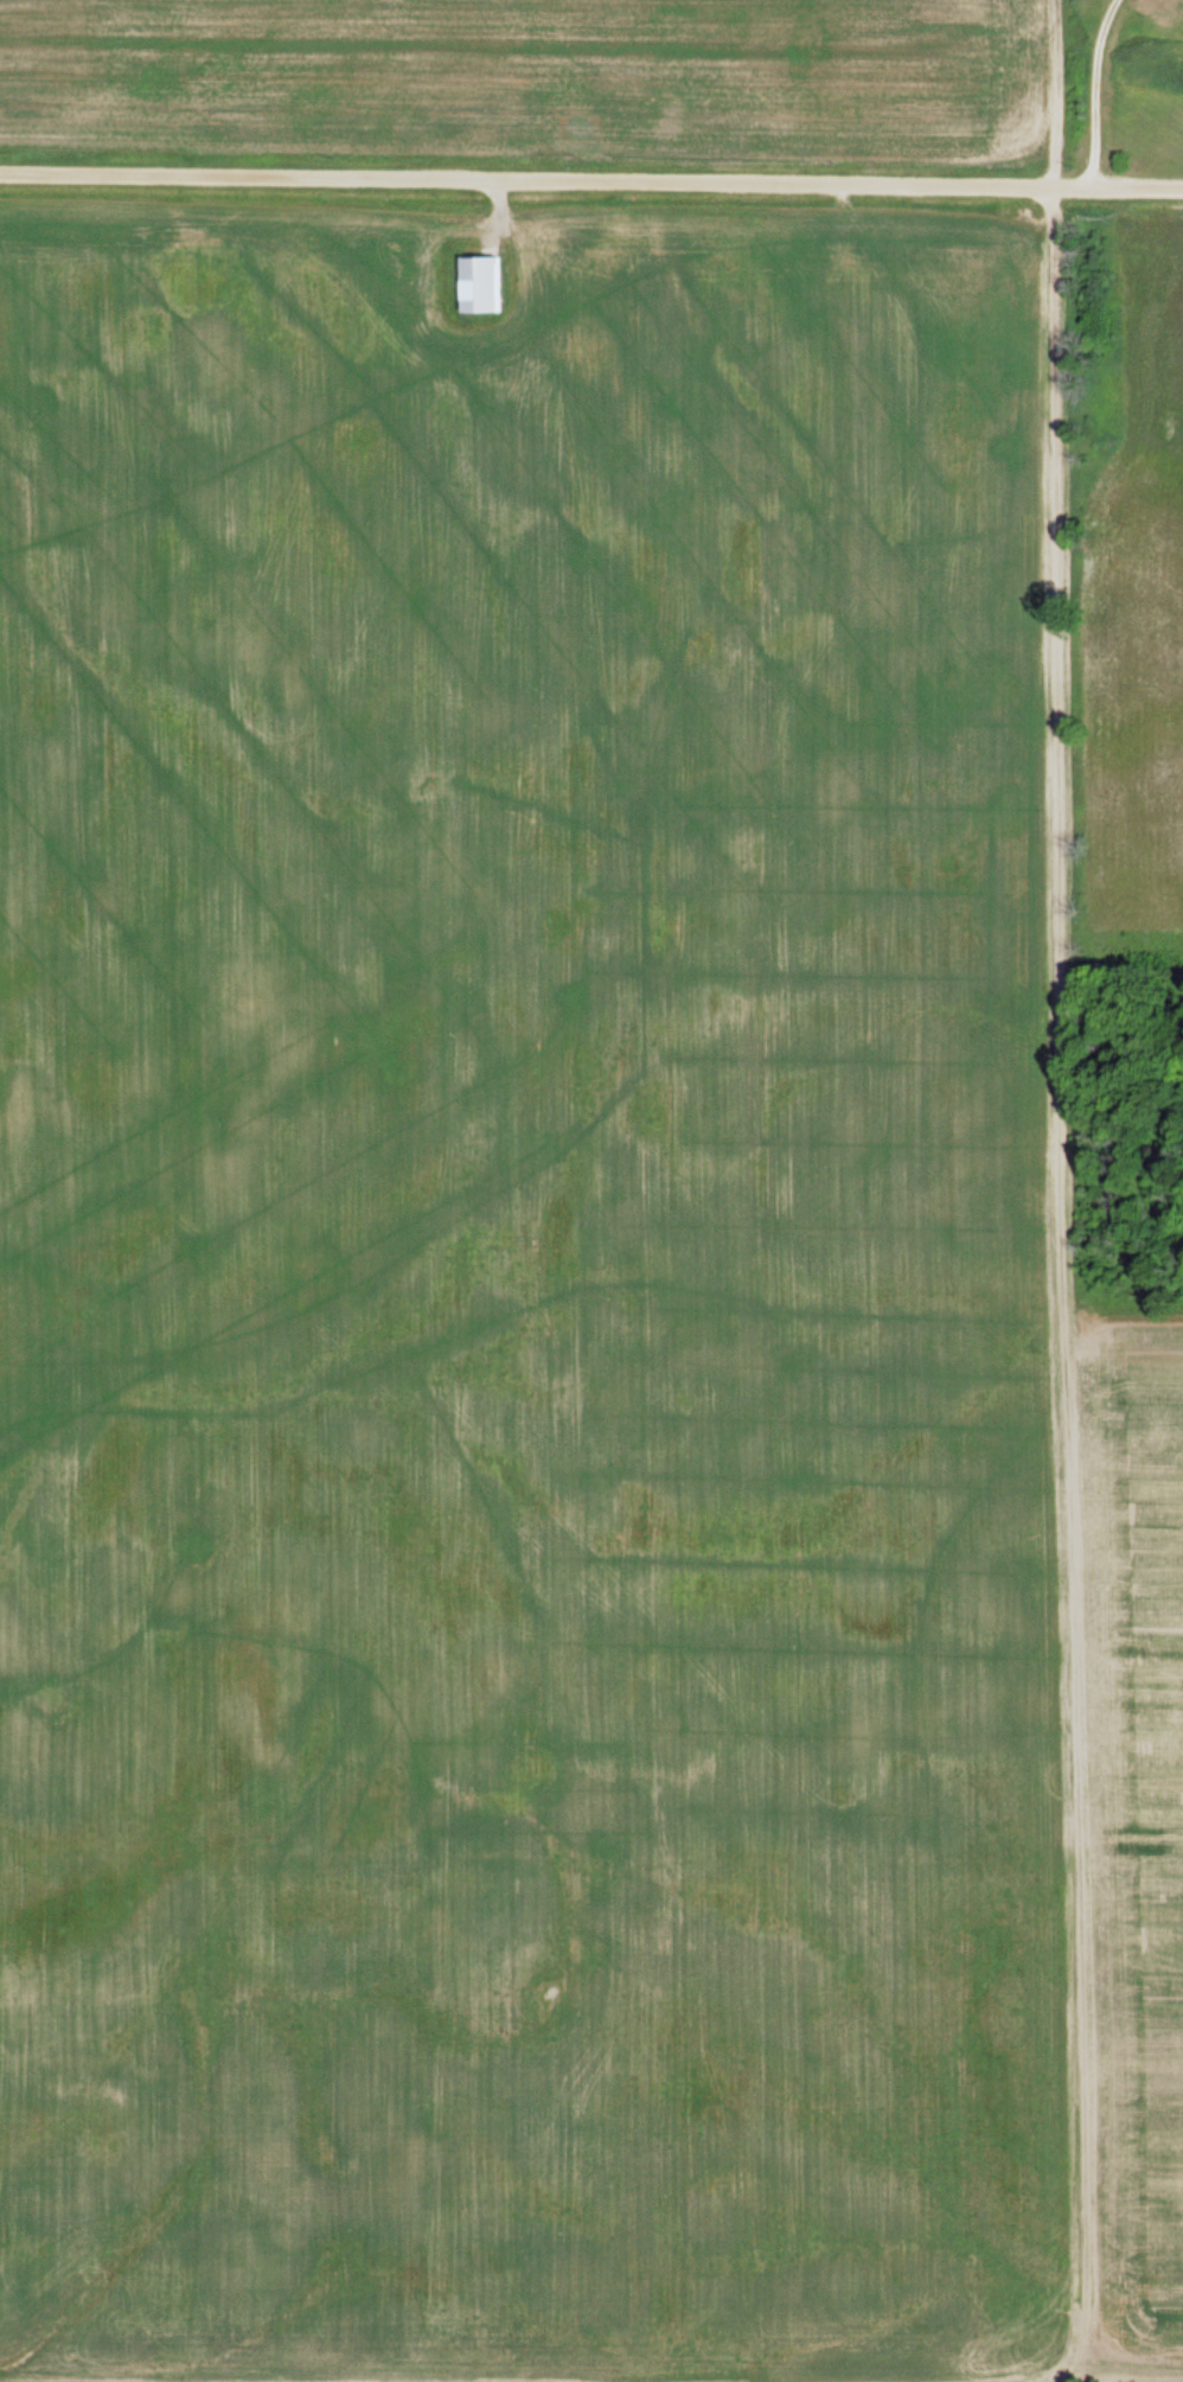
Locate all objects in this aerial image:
road: (591, 180)
building: (479, 285)
road: (1126, 2380)

